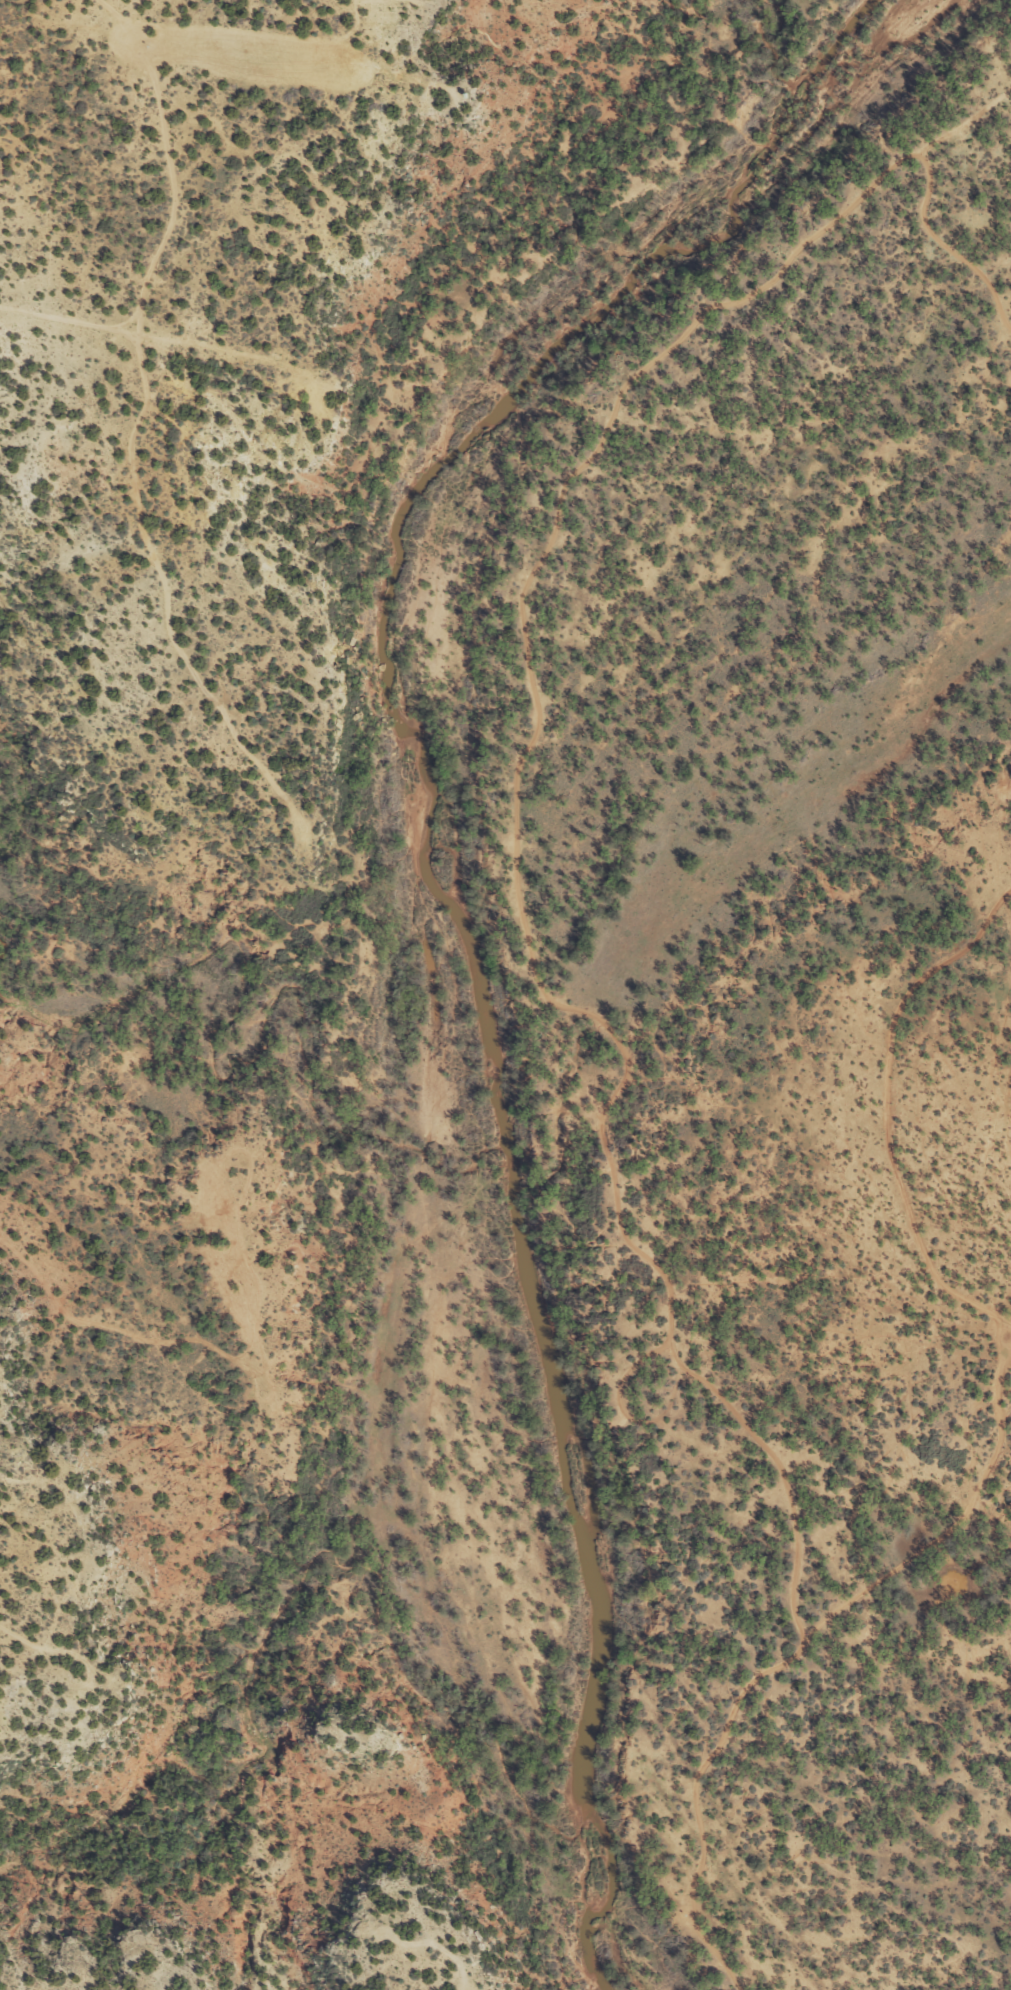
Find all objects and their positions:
river: (447, 909)
road: (860, 1150)

